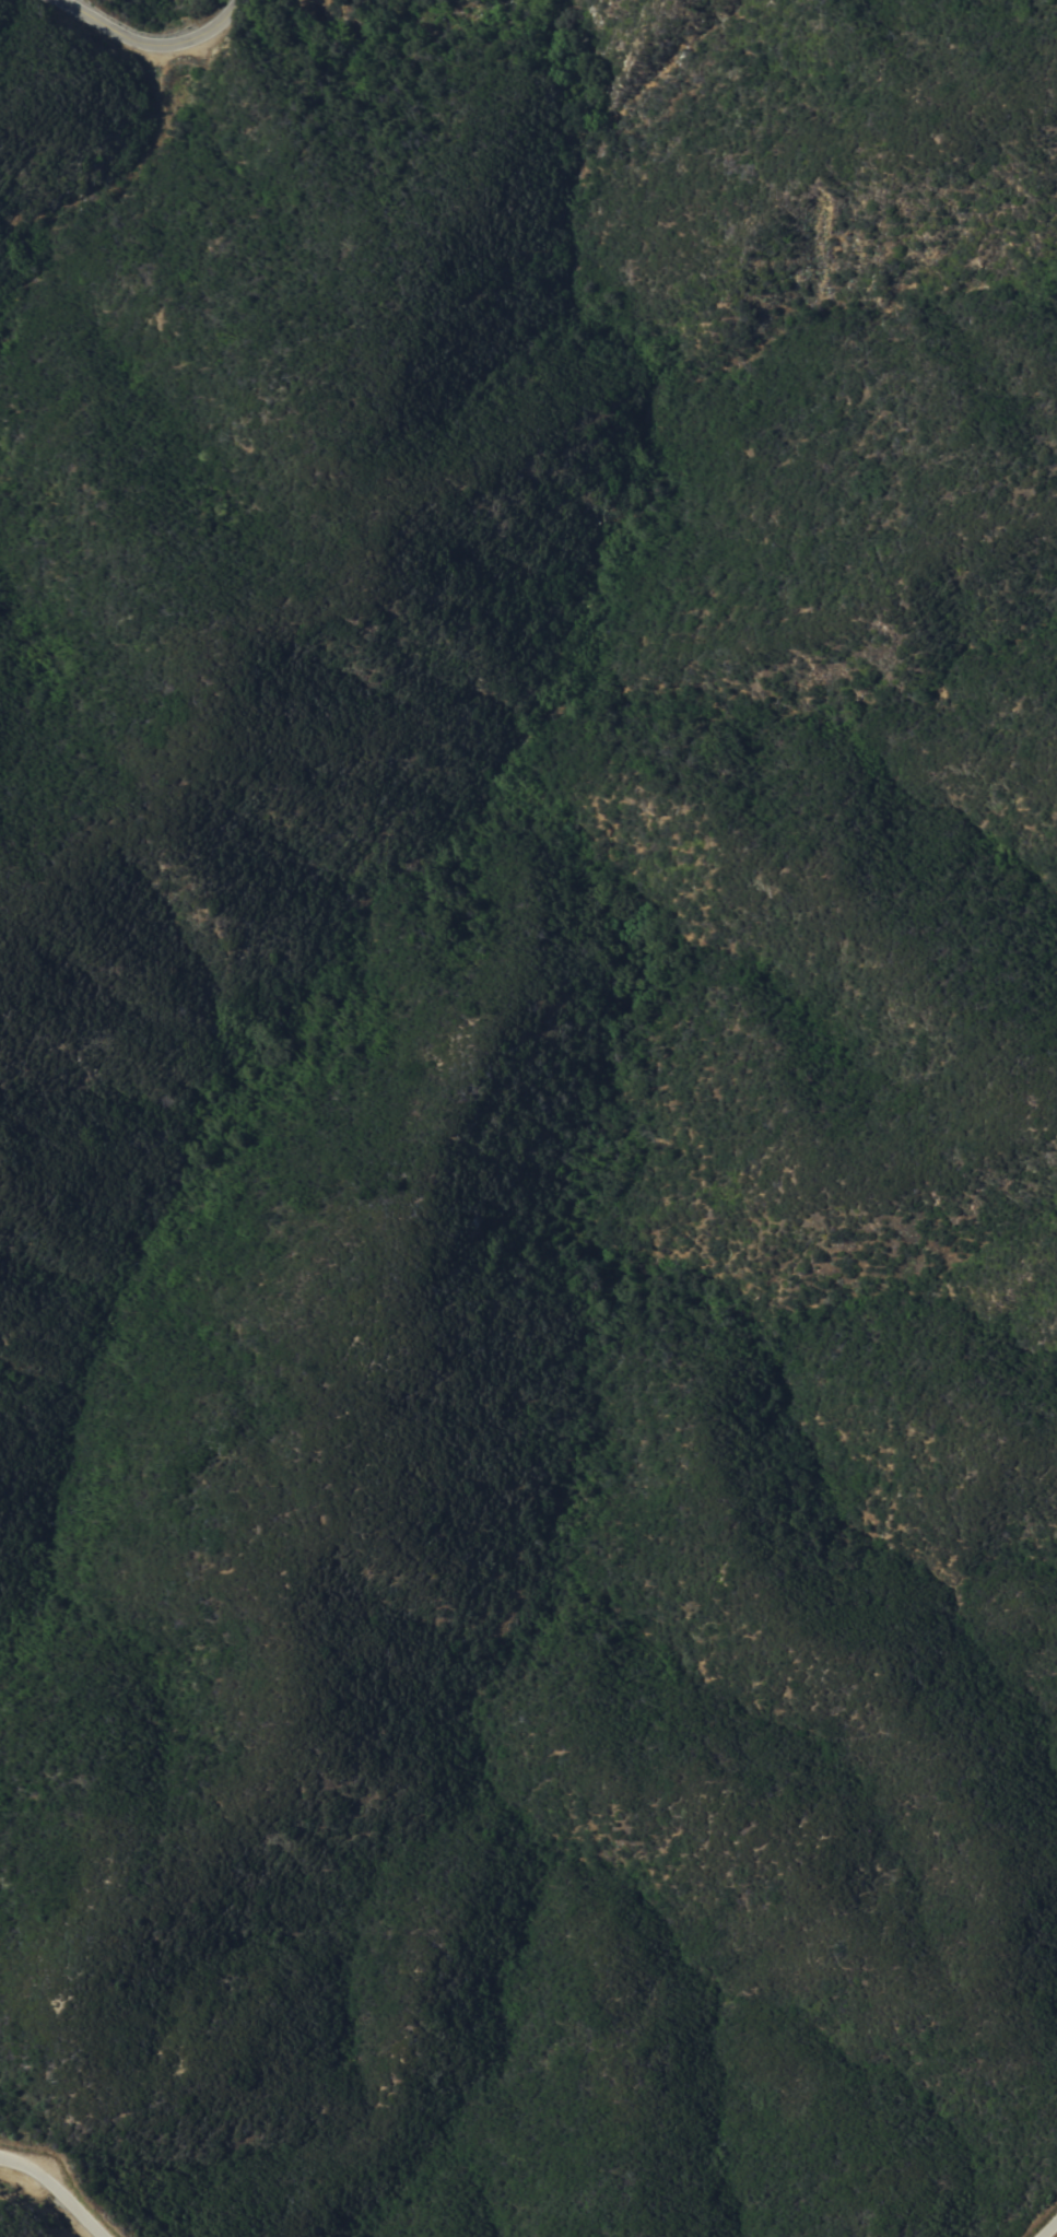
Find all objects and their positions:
road: (149, 45)
road: (55, 2190)
road: (1046, 2227)

